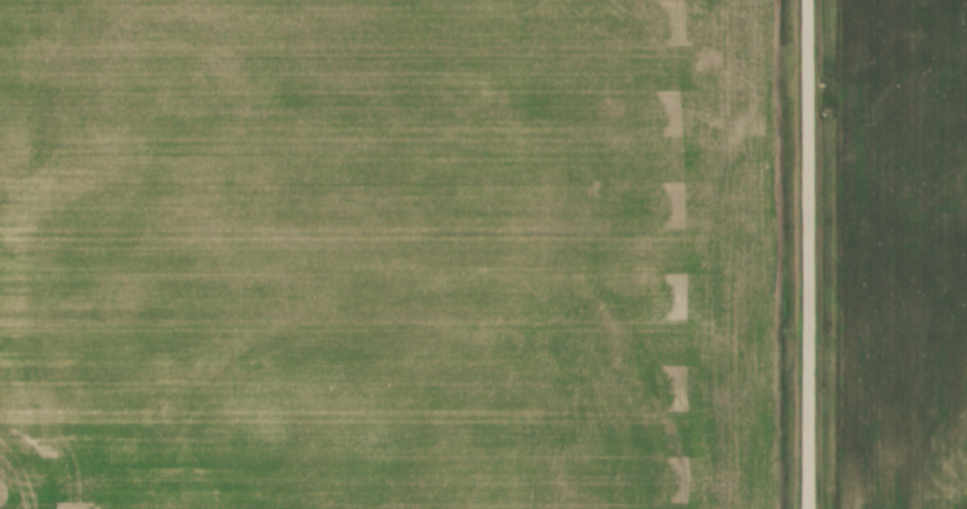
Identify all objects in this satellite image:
road: (807, 254)

